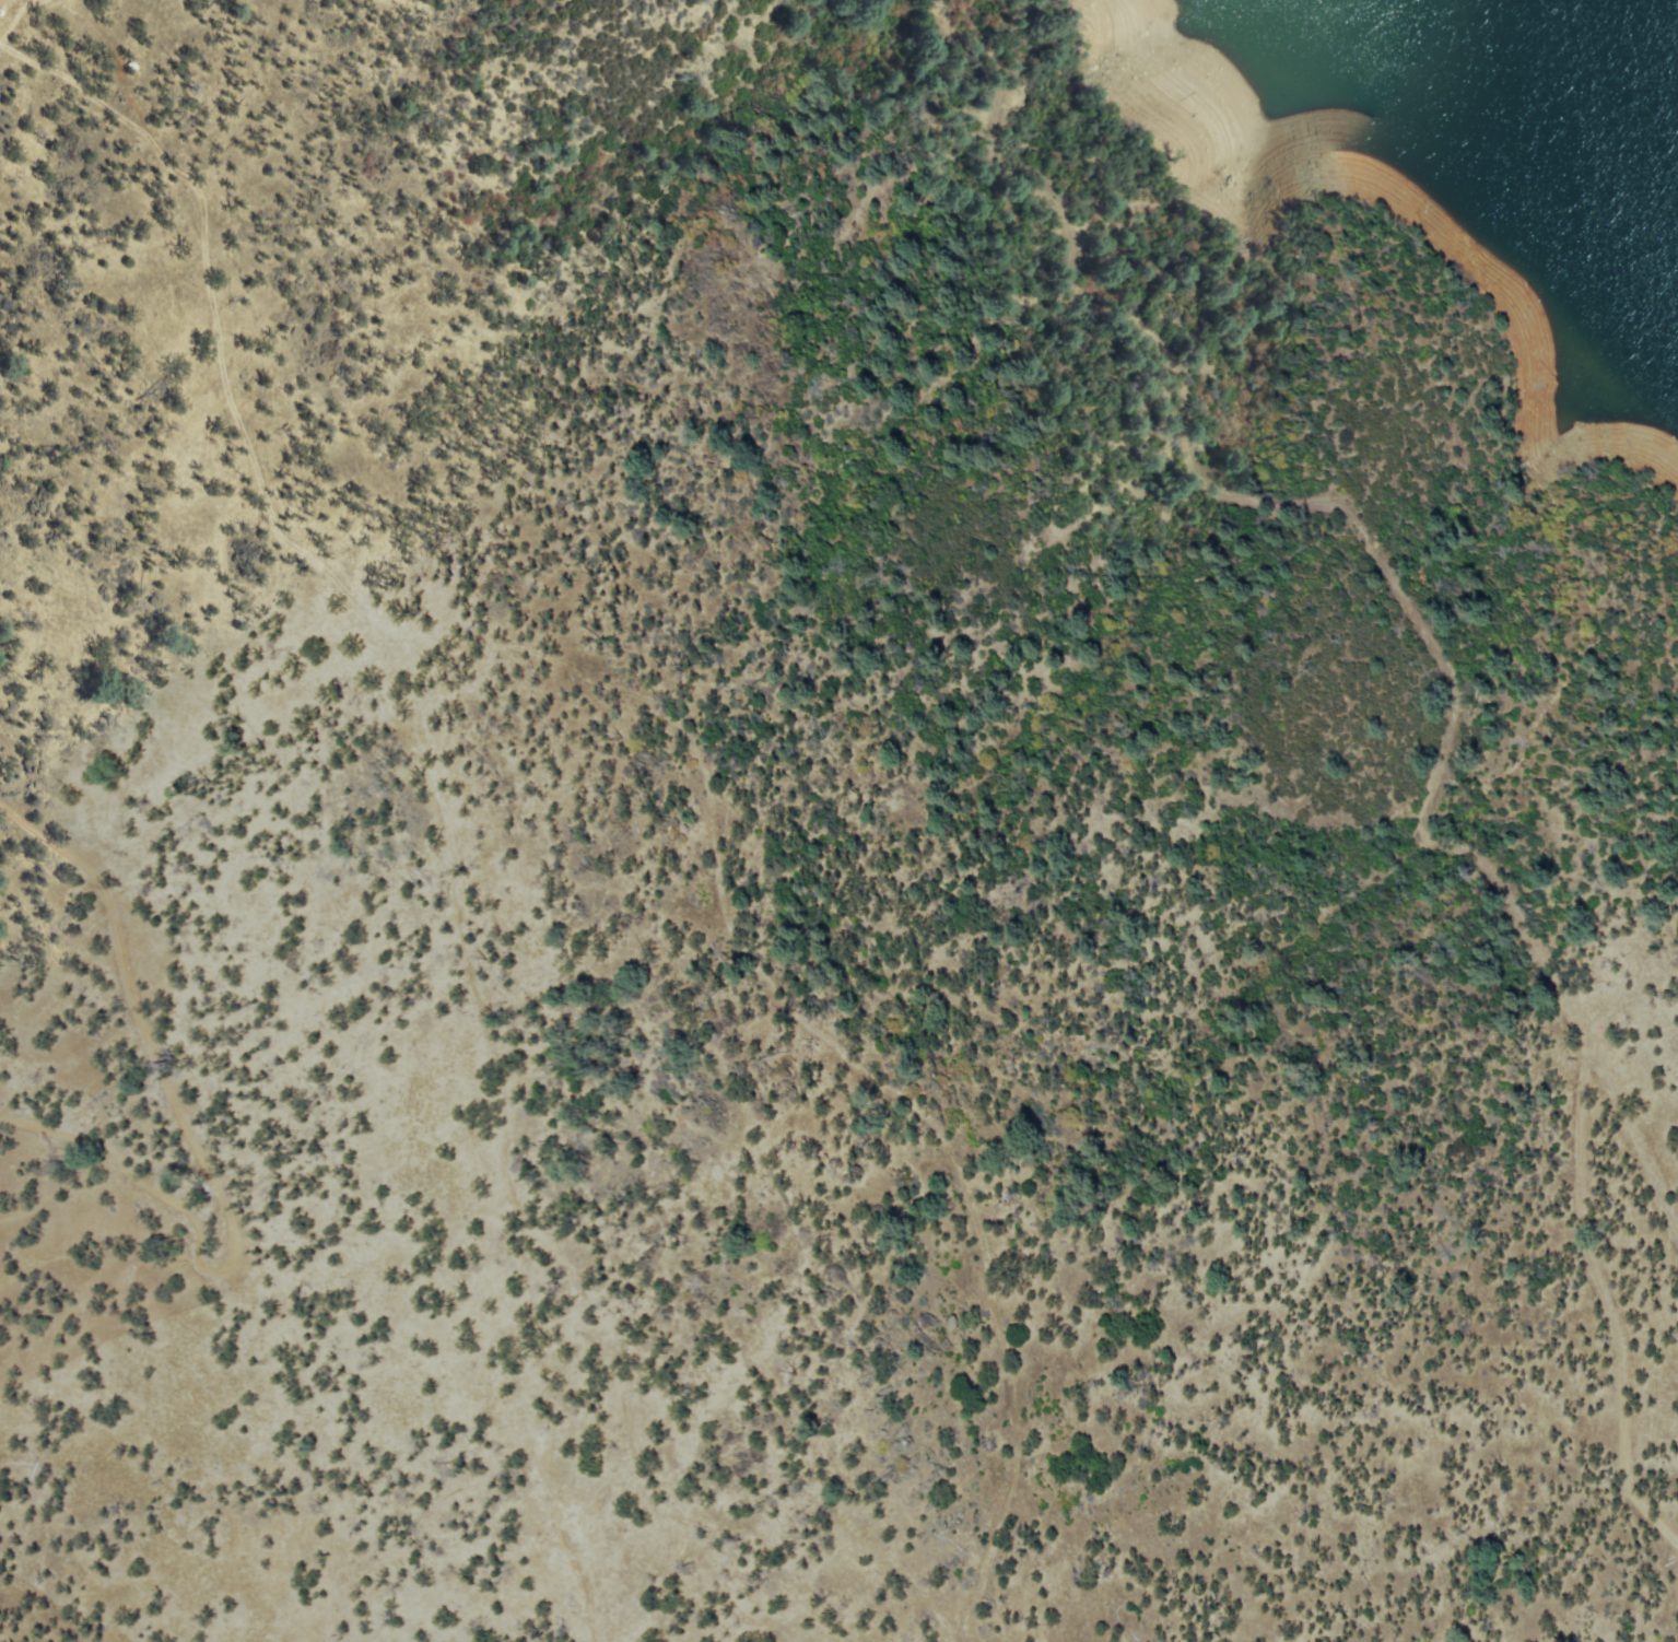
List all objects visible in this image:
building: (128, 66)

